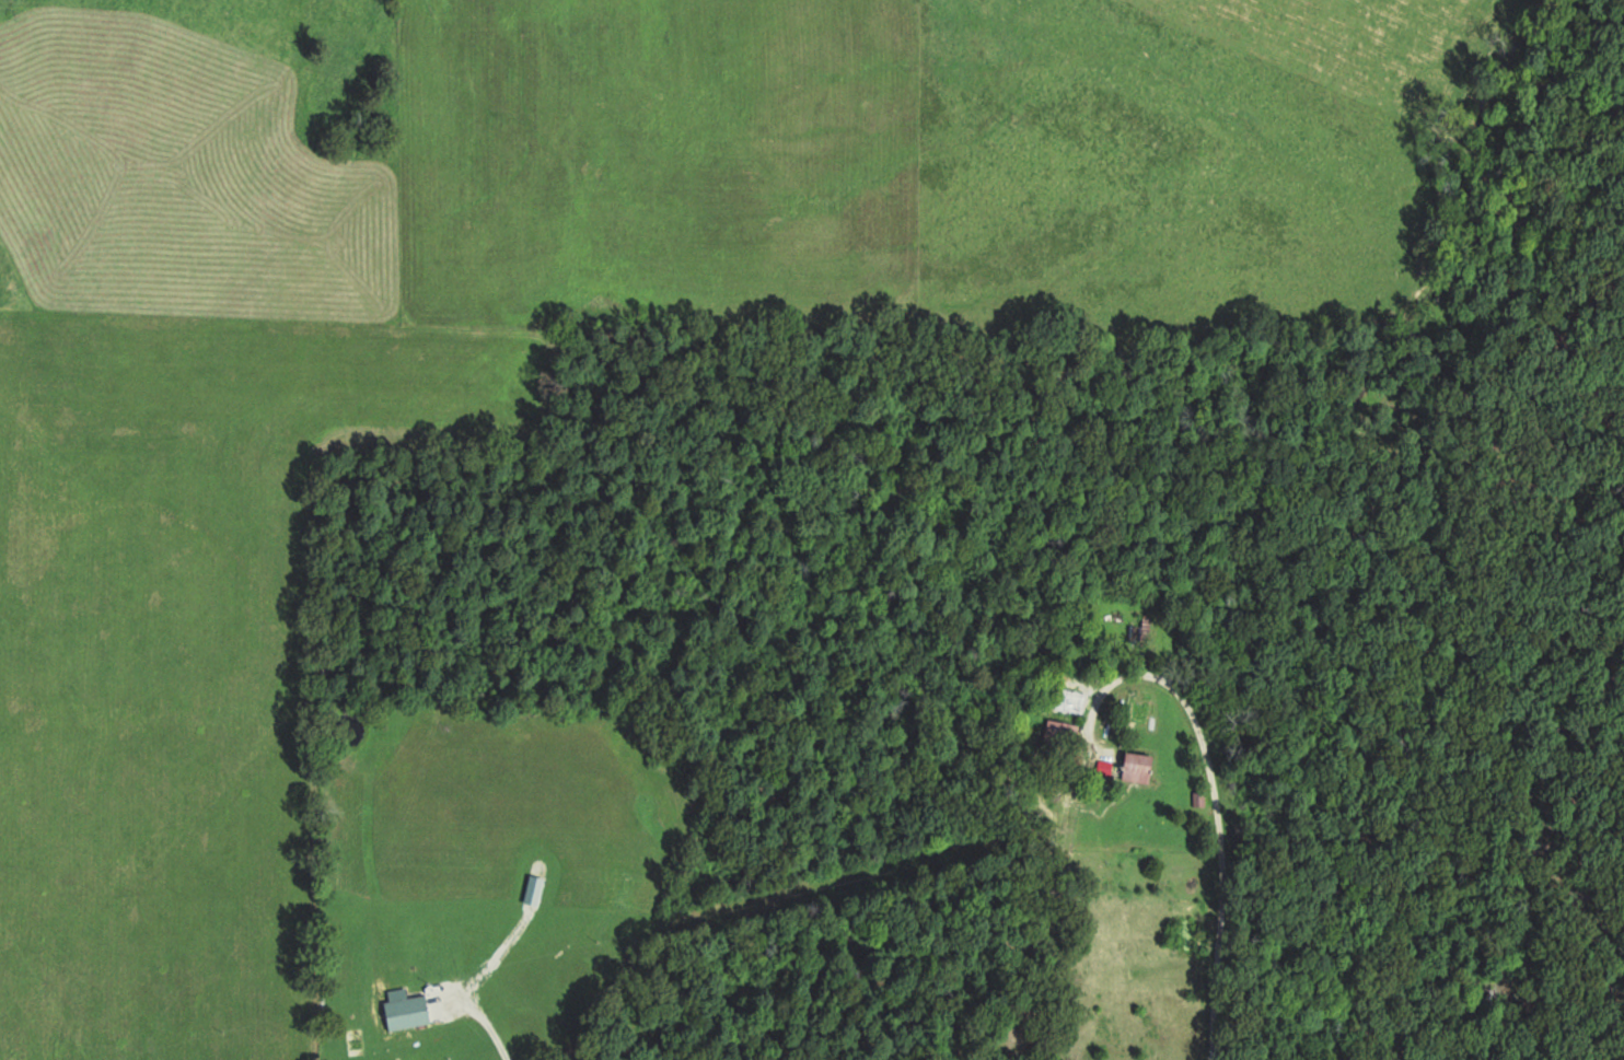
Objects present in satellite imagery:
building: (1132, 767)
road: (1220, 806)
building: (402, 1013)

